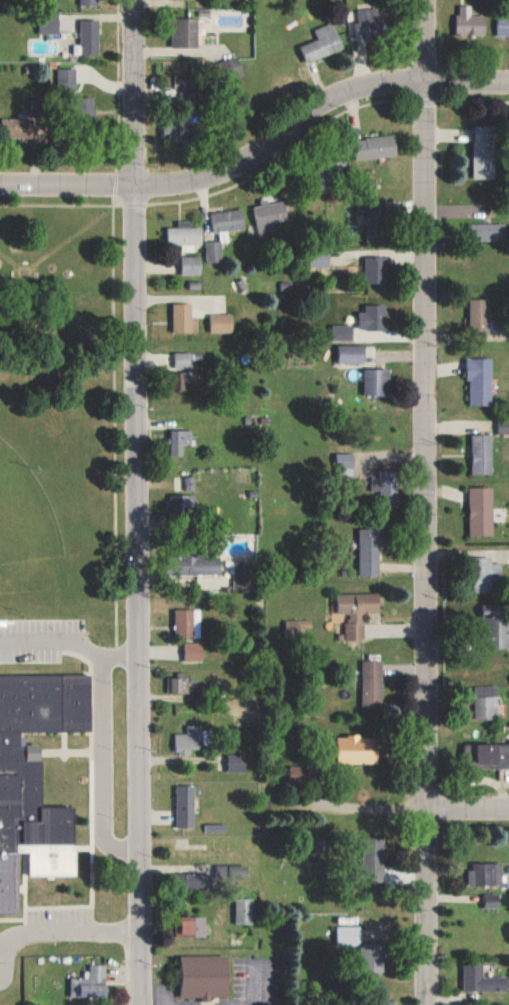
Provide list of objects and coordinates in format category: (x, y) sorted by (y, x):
building: (89, 2)
building: (370, 23)
building: (470, 23)
building: (50, 24)
building: (503, 25)
building: (186, 32)
building: (89, 37)
building: (322, 44)
building: (66, 75)
building: (192, 92)
building: (37, 108)
building: (18, 128)
building: (183, 128)
road: (256, 143)
building: (378, 147)
building: (485, 151)
building: (271, 216)
building: (375, 218)
building: (229, 220)
building: (490, 231)
building: (186, 235)
building: (215, 251)
building: (193, 265)
building: (376, 269)
building: (480, 314)
building: (186, 318)
building: (374, 318)
building: (223, 323)
building: (344, 332)
building: (353, 354)
building: (184, 380)
building: (482, 381)
building: (379, 382)
building: (505, 427)
building: (181, 441)
building: (483, 454)
building: (346, 465)
building: (191, 483)
building: (388, 485)
road: (133, 502)
road: (422, 502)
building: (183, 506)
building: (482, 511)
building: (370, 552)
building: (207, 565)
building: (489, 573)
building: (245, 578)
building: (358, 612)
building: (188, 623)
building: (497, 624)
building: (195, 651)
building: (178, 683)
building: (372, 684)
building: (487, 702)
building: (192, 740)
building: (359, 749)
building: (494, 756)
building: (237, 762)
building: (300, 775)
building: (36, 777)
building: (186, 807)
road: (465, 807)
building: (319, 845)
building: (377, 858)
building: (232, 872)
building: (486, 874)
building: (200, 881)
building: (492, 901)
building: (245, 911)
building: (192, 927)
building: (364, 948)
building: (483, 979)
building: (91, 983)
building: (189, 983)
building: (389, 1002)

